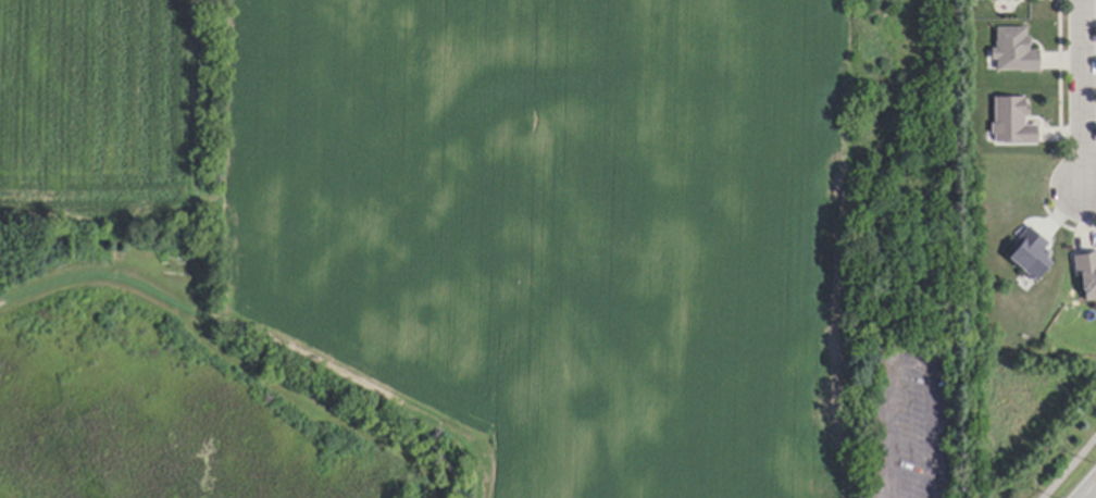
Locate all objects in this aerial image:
building: (1011, 51)
road: (1084, 92)
building: (1009, 123)
building: (1027, 254)
building: (1085, 274)
road: (911, 358)
road: (1091, 491)

